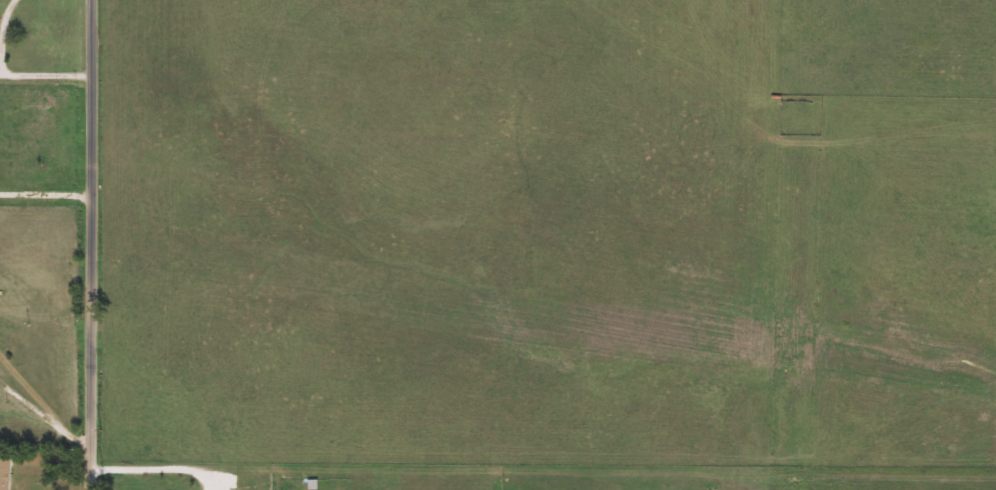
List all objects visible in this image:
road: (9, 76)
road: (48, 196)
road: (94, 245)
road: (42, 417)
road: (153, 470)
building: (25, 481)
building: (313, 485)

